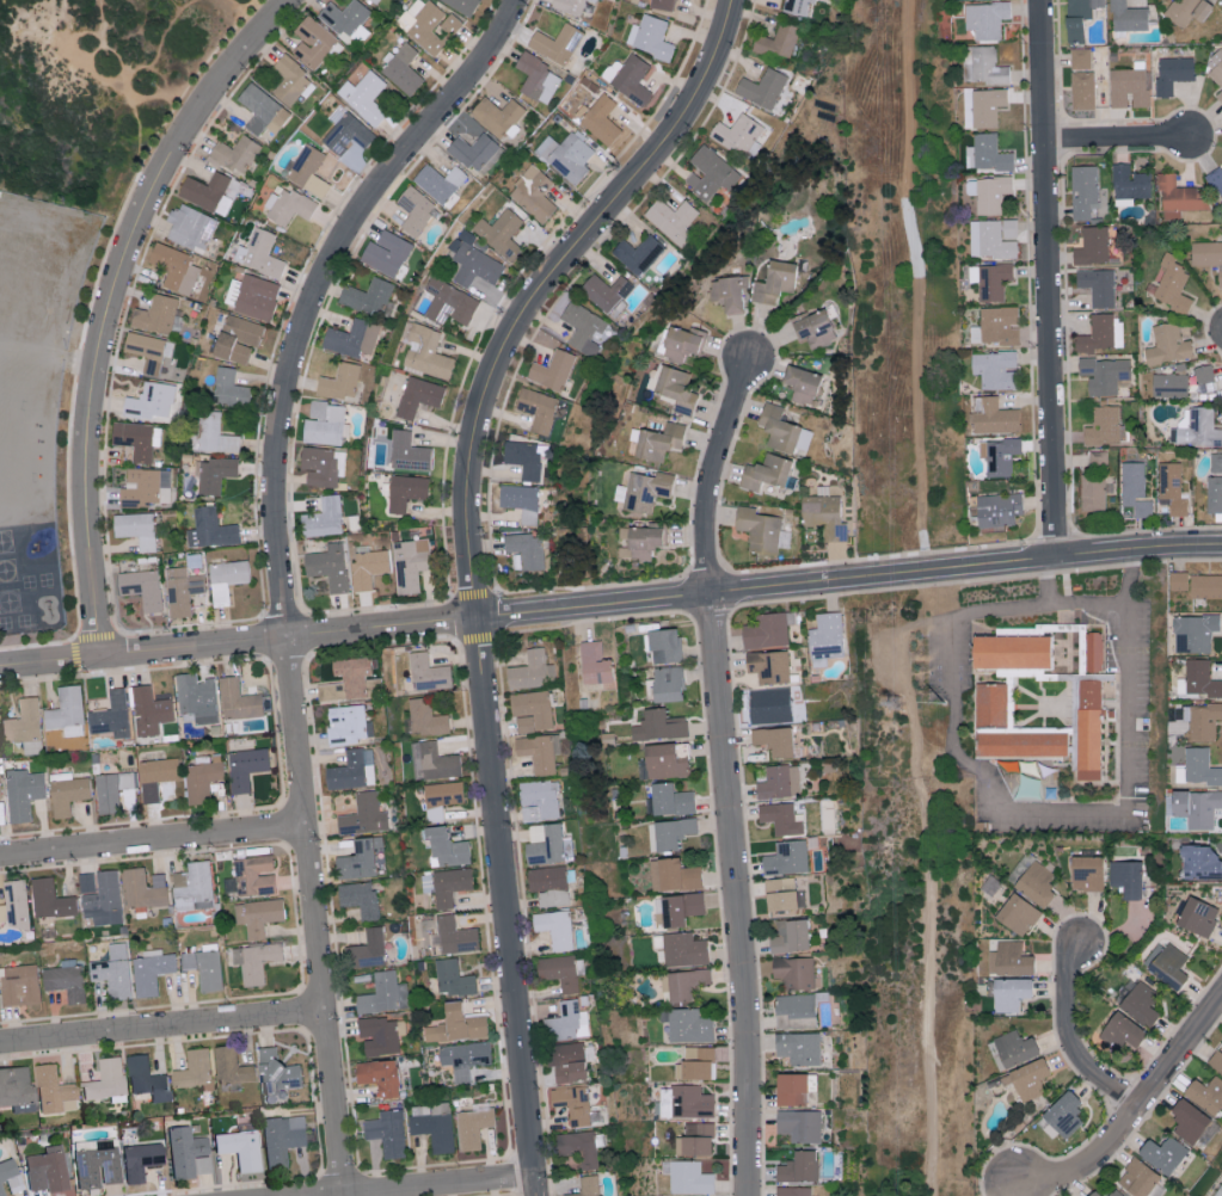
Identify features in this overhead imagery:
building: (598, 0)
building: (374, 1)
building: (663, 5)
building: (462, 6)
building: (573, 6)
building: (799, 6)
building: (1190, 12)
building: (345, 17)
building: (1081, 18)
building: (1129, 18)
building: (987, 20)
building: (430, 29)
building: (655, 38)
building: (780, 42)
building: (314, 43)
building: (558, 44)
building: (1081, 60)
building: (610, 68)
building: (988, 68)
building: (1216, 68)
road: (102, 69)
building: (404, 70)
building: (1173, 75)
building: (539, 78)
building: (633, 80)
building: (291, 81)
building: (1129, 88)
building: (763, 90)
building: (1083, 92)
park: (94, 94)
building: (367, 97)
building: (1220, 97)
building: (988, 107)
building: (263, 111)
building: (499, 117)
building: (602, 121)
building: (349, 131)
building: (738, 136)
road: (1117, 143)
building: (474, 153)
building: (235, 155)
building: (991, 156)
building: (567, 158)
building: (492, 159)
building: (309, 172)
building: (712, 173)
building: (1216, 183)
building: (441, 184)
building: (1131, 184)
building: (1083, 192)
building: (208, 193)
building: (534, 195)
building: (991, 197)
building: (1180, 201)
building: (290, 208)
building: (416, 211)
building: (676, 221)
building: (191, 228)
building: (501, 234)
building: (999, 240)
building: (1093, 247)
building: (387, 254)
building: (262, 255)
building: (640, 255)
building: (1206, 255)
building: (475, 266)
building: (176, 269)
road: (1046, 278)
building: (776, 282)
building: (995, 283)
road: (919, 284)
building: (1172, 284)
road: (546, 285)
building: (1099, 288)
building: (608, 292)
building: (727, 295)
building: (254, 298)
building: (369, 298)
road: (111, 302)
building: (449, 303)
building: (159, 318)
building: (1000, 326)
building: (584, 328)
building: (815, 329)
building: (1098, 335)
building: (240, 339)
building: (355, 340)
building: (681, 344)
building: (1169, 345)
building: (148, 352)
building: (428, 352)
building: (554, 371)
building: (996, 371)
building: (1106, 375)
building: (1204, 375)
building: (342, 383)
building: (803, 386)
building: (1171, 387)
building: (676, 389)
building: (232, 390)
building: (419, 399)
road: (73, 400)
building: (151, 405)
building: (540, 408)
building: (996, 419)
building: (326, 425)
building: (1104, 427)
building: (780, 430)
building: (1199, 431)
building: (214, 434)
building: (137, 440)
building: (659, 442)
building: (409, 454)
building: (1002, 457)
building: (526, 460)
building: (1099, 462)
building: (1216, 464)
building: (321, 467)
building: (767, 473)
building: (216, 476)
building: (1172, 488)
building: (149, 489)
building: (1136, 491)
building: (645, 492)
building: (407, 493)
building: (1094, 494)
building: (1215, 495)
building: (523, 501)
building: (999, 510)
building: (825, 518)
building: (326, 519)
building: (137, 530)
building: (211, 530)
building: (760, 531)
building: (639, 542)
building: (529, 550)
road: (278, 563)
building: (410, 567)
building: (331, 568)
building: (369, 569)
building: (228, 580)
building: (1178, 580)
building: (1205, 585)
building: (143, 588)
building: (182, 592)
road: (610, 603)
road: (1093, 603)
building: (767, 629)
building: (1195, 633)
road: (80, 639)
building: (664, 645)
building: (1013, 653)
building: (1093, 655)
building: (595, 662)
building: (768, 665)
parking lot: (947, 666)
building: (532, 672)
building: (429, 674)
building: (1198, 679)
building: (352, 682)
building: (667, 683)
building: (197, 699)
building: (241, 703)
power tower: (948, 703)
building: (769, 704)
power tower: (895, 704)
building: (990, 707)
building: (68, 709)
building: (151, 711)
building: (534, 711)
building: (113, 715)
building: (424, 719)
building: (1203, 720)
building: (24, 725)
building: (658, 725)
building: (349, 726)
parking lot: (1132, 730)
building: (1088, 732)
road: (277, 739)
building: (774, 740)
building: (1021, 746)
building: (542, 752)
building: (663, 762)
building: (437, 763)
building: (1200, 766)
building: (247, 769)
building: (355, 771)
road: (726, 773)
building: (159, 777)
building: (202, 781)
building: (779, 782)
building: (0, 793)
building: (112, 793)
building: (24, 795)
building: (69, 795)
building: (442, 799)
building: (544, 799)
building: (670, 800)
building: (1197, 807)
road: (1008, 809)
building: (366, 816)
building: (780, 818)
building: (671, 832)
road: (153, 841)
building: (549, 847)
building: (448, 849)
building: (786, 857)
building: (360, 862)
building: (1199, 862)
building: (1086, 871)
building: (673, 875)
building: (254, 876)
building: (1126, 877)
road: (929, 880)
building: (1036, 883)
building: (452, 884)
building: (551, 886)
building: (196, 888)
building: (143, 892)
building: (782, 894)
building: (361, 900)
building: (51, 901)
building: (106, 902)
building: (18, 905)
road: (505, 906)
building: (680, 907)
building: (1018, 913)
building: (1197, 917)
building: (262, 918)
building: (558, 929)
building: (791, 936)
building: (456, 937)
building: (683, 949)
building: (368, 950)
building: (1009, 958)
building: (259, 962)
building: (1168, 966)
building: (205, 970)
building: (115, 972)
building: (796, 972)
building: (561, 973)
building: (153, 974)
building: (454, 979)
building: (684, 982)
building: (67, 984)
building: (22, 986)
building: (1009, 993)
building: (386, 995)
building: (1140, 1003)
building: (797, 1007)
building: (566, 1024)
building: (458, 1025)
building: (688, 1025)
road: (161, 1028)
building: (1123, 1030)
building: (380, 1035)
road: (1070, 1041)
building: (798, 1047)
building: (1014, 1047)
building: (463, 1059)
building: (1216, 1059)
building: (569, 1061)
building: (694, 1064)
building: (233, 1068)
building: (196, 1069)
building: (278, 1074)
building: (380, 1075)
building: (1026, 1078)
building: (148, 1080)
building: (108, 1081)
building: (793, 1087)
building: (16, 1089)
building: (54, 1091)
building: (1206, 1093)
building: (575, 1103)
building: (1063, 1114)
road: (1132, 1114)
building: (1189, 1120)
building: (799, 1124)
building: (434, 1126)
building: (473, 1129)
building: (389, 1133)
building: (694, 1140)
building: (280, 1142)
building: (581, 1148)
building: (241, 1152)
building: (186, 1153)
building: (1162, 1153)
building: (142, 1161)
building: (97, 1164)
building: (799, 1166)
building: (7, 1172)
building: (47, 1173)
building: (687, 1177)
building: (1137, 1178)
road: (423, 1184)
building: (591, 1186)
building: (793, 1191)
building: (1, 1192)
building: (1116, 1192)
building: (1220, 1192)
building: (1094, 1194)

